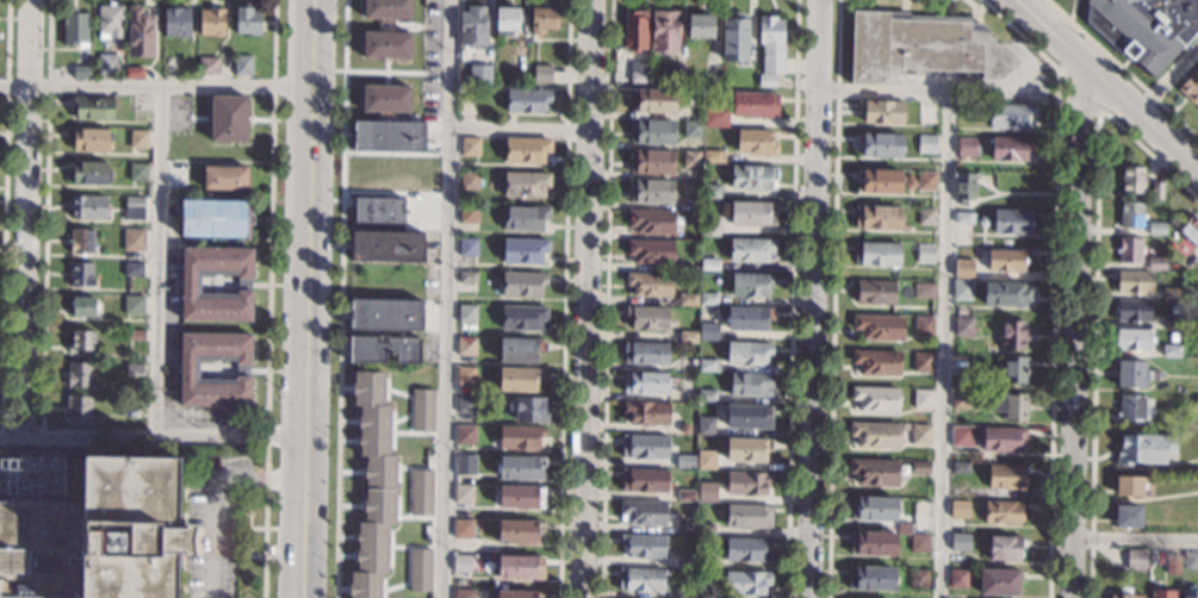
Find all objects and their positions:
building: (386, 8)
building: (505, 19)
building: (107, 20)
building: (247, 20)
building: (542, 20)
building: (175, 21)
building: (211, 21)
building: (74, 26)
building: (472, 26)
building: (700, 26)
building: (1144, 27)
building: (635, 30)
building: (665, 31)
building: (139, 32)
building: (734, 41)
building: (770, 43)
building: (385, 45)
building: (921, 46)
building: (105, 64)
building: (241, 64)
building: (207, 66)
building: (517, 69)
building: (79, 70)
building: (638, 71)
building: (132, 73)
building: (677, 73)
building: (541, 74)
building: (710, 74)
building: (484, 75)
road: (1167, 77)
building: (765, 80)
road: (1106, 83)
road: (155, 86)
building: (1190, 87)
road: (914, 92)
building: (385, 99)
building: (653, 100)
building: (527, 101)
building: (138, 102)
building: (755, 104)
building: (91, 106)
building: (967, 110)
building: (881, 111)
building: (929, 114)
building: (715, 117)
building: (1011, 117)
building: (226, 118)
road: (520, 126)
building: (691, 129)
building: (651, 131)
building: (387, 136)
building: (88, 138)
building: (137, 138)
building: (756, 142)
building: (880, 144)
building: (926, 144)
building: (470, 147)
building: (967, 147)
building: (1011, 149)
building: (526, 150)
building: (712, 156)
building: (690, 158)
building: (651, 162)
building: (87, 172)
building: (136, 172)
building: (752, 176)
building: (223, 177)
building: (468, 180)
building: (1131, 180)
building: (877, 181)
building: (925, 181)
building: (908, 182)
building: (526, 183)
building: (963, 187)
building: (690, 188)
building: (650, 192)
building: (710, 192)
building: (1157, 192)
building: (87, 206)
building: (134, 208)
building: (378, 210)
building: (468, 213)
building: (752, 213)
building: (1130, 214)
building: (524, 217)
building: (926, 217)
road: (4, 218)
road: (25, 218)
road: (45, 218)
building: (212, 218)
building: (877, 218)
building: (964, 218)
building: (651, 222)
building: (982, 222)
building: (1011, 222)
building: (709, 225)
building: (1156, 229)
building: (1190, 230)
building: (131, 239)
building: (79, 241)
building: (386, 247)
building: (467, 248)
building: (751, 249)
building: (1129, 249)
building: (523, 251)
building: (650, 251)
building: (876, 254)
building: (925, 254)
road: (159, 261)
building: (1006, 261)
building: (1156, 263)
building: (709, 264)
building: (688, 266)
building: (1173, 267)
building: (963, 268)
building: (131, 269)
building: (80, 274)
building: (466, 276)
building: (1134, 282)
building: (188, 284)
building: (520, 284)
building: (648, 284)
building: (751, 285)
building: (962, 289)
building: (875, 291)
building: (923, 291)
building: (1171, 293)
building: (1005, 294)
building: (1190, 295)
road: (268, 298)
road: (306, 298)
road: (447, 298)
road: (814, 298)
road: (588, 299)
building: (687, 299)
building: (708, 299)
building: (131, 304)
building: (80, 306)
building: (1132, 310)
building: (466, 313)
building: (385, 314)
building: (523, 318)
building: (647, 318)
building: (749, 318)
building: (1172, 322)
building: (879, 326)
building: (924, 326)
building: (963, 326)
building: (707, 331)
road: (1081, 334)
building: (134, 335)
building: (1012, 335)
building: (688, 337)
building: (1132, 338)
building: (79, 341)
road: (943, 345)
building: (466, 347)
building: (384, 349)
building: (520, 350)
building: (1171, 350)
building: (747, 353)
building: (645, 354)
building: (877, 362)
building: (923, 362)
building: (706, 366)
building: (132, 368)
building: (188, 369)
building: (1013, 369)
building: (76, 374)
building: (1130, 374)
building: (465, 375)
building: (520, 379)
building: (645, 382)
building: (750, 385)
building: (707, 395)
building: (875, 398)
building: (921, 399)
building: (960, 400)
building: (1197, 401)
building: (132, 403)
building: (465, 405)
building: (1007, 405)
building: (76, 407)
building: (1134, 407)
building: (532, 409)
building: (422, 411)
building: (646, 412)
building: (747, 416)
building: (706, 425)
building: (687, 429)
building: (465, 435)
building: (876, 435)
building: (920, 435)
building: (961, 435)
road: (151, 437)
building: (520, 437)
building: (1004, 440)
building: (644, 447)
building: (746, 449)
building: (1143, 449)
building: (706, 460)
building: (684, 461)
building: (464, 463)
building: (919, 467)
building: (521, 468)
building: (960, 468)
building: (874, 472)
building: (1006, 476)
building: (643, 480)
building: (747, 482)
building: (372, 485)
building: (1128, 486)
building: (954, 491)
building: (706, 492)
building: (420, 493)
building: (463, 493)
building: (685, 496)
building: (521, 497)
building: (873, 509)
building: (958, 509)
building: (643, 512)
building: (1003, 512)
building: (749, 516)
building: (1128, 516)
building: (685, 528)
building: (461, 529)
building: (704, 530)
building: (519, 531)
building: (97, 534)
road: (211, 535)
road: (1136, 538)
building: (960, 542)
building: (871, 543)
building: (919, 543)
building: (643, 546)
building: (1004, 548)
building: (747, 549)
building: (1135, 559)
building: (684, 561)
building: (1191, 561)
building: (704, 562)
building: (461, 563)
building: (1173, 563)
building: (520, 567)
building: (420, 571)
building: (918, 578)
building: (958, 578)
building: (870, 579)
building: (641, 580)
building: (745, 583)
building: (999, 583)
building: (1190, 592)
building: (463, 593)
building: (517, 593)
building: (684, 593)
building: (703, 593)
building: (1124, 593)
building: (1162, 593)

